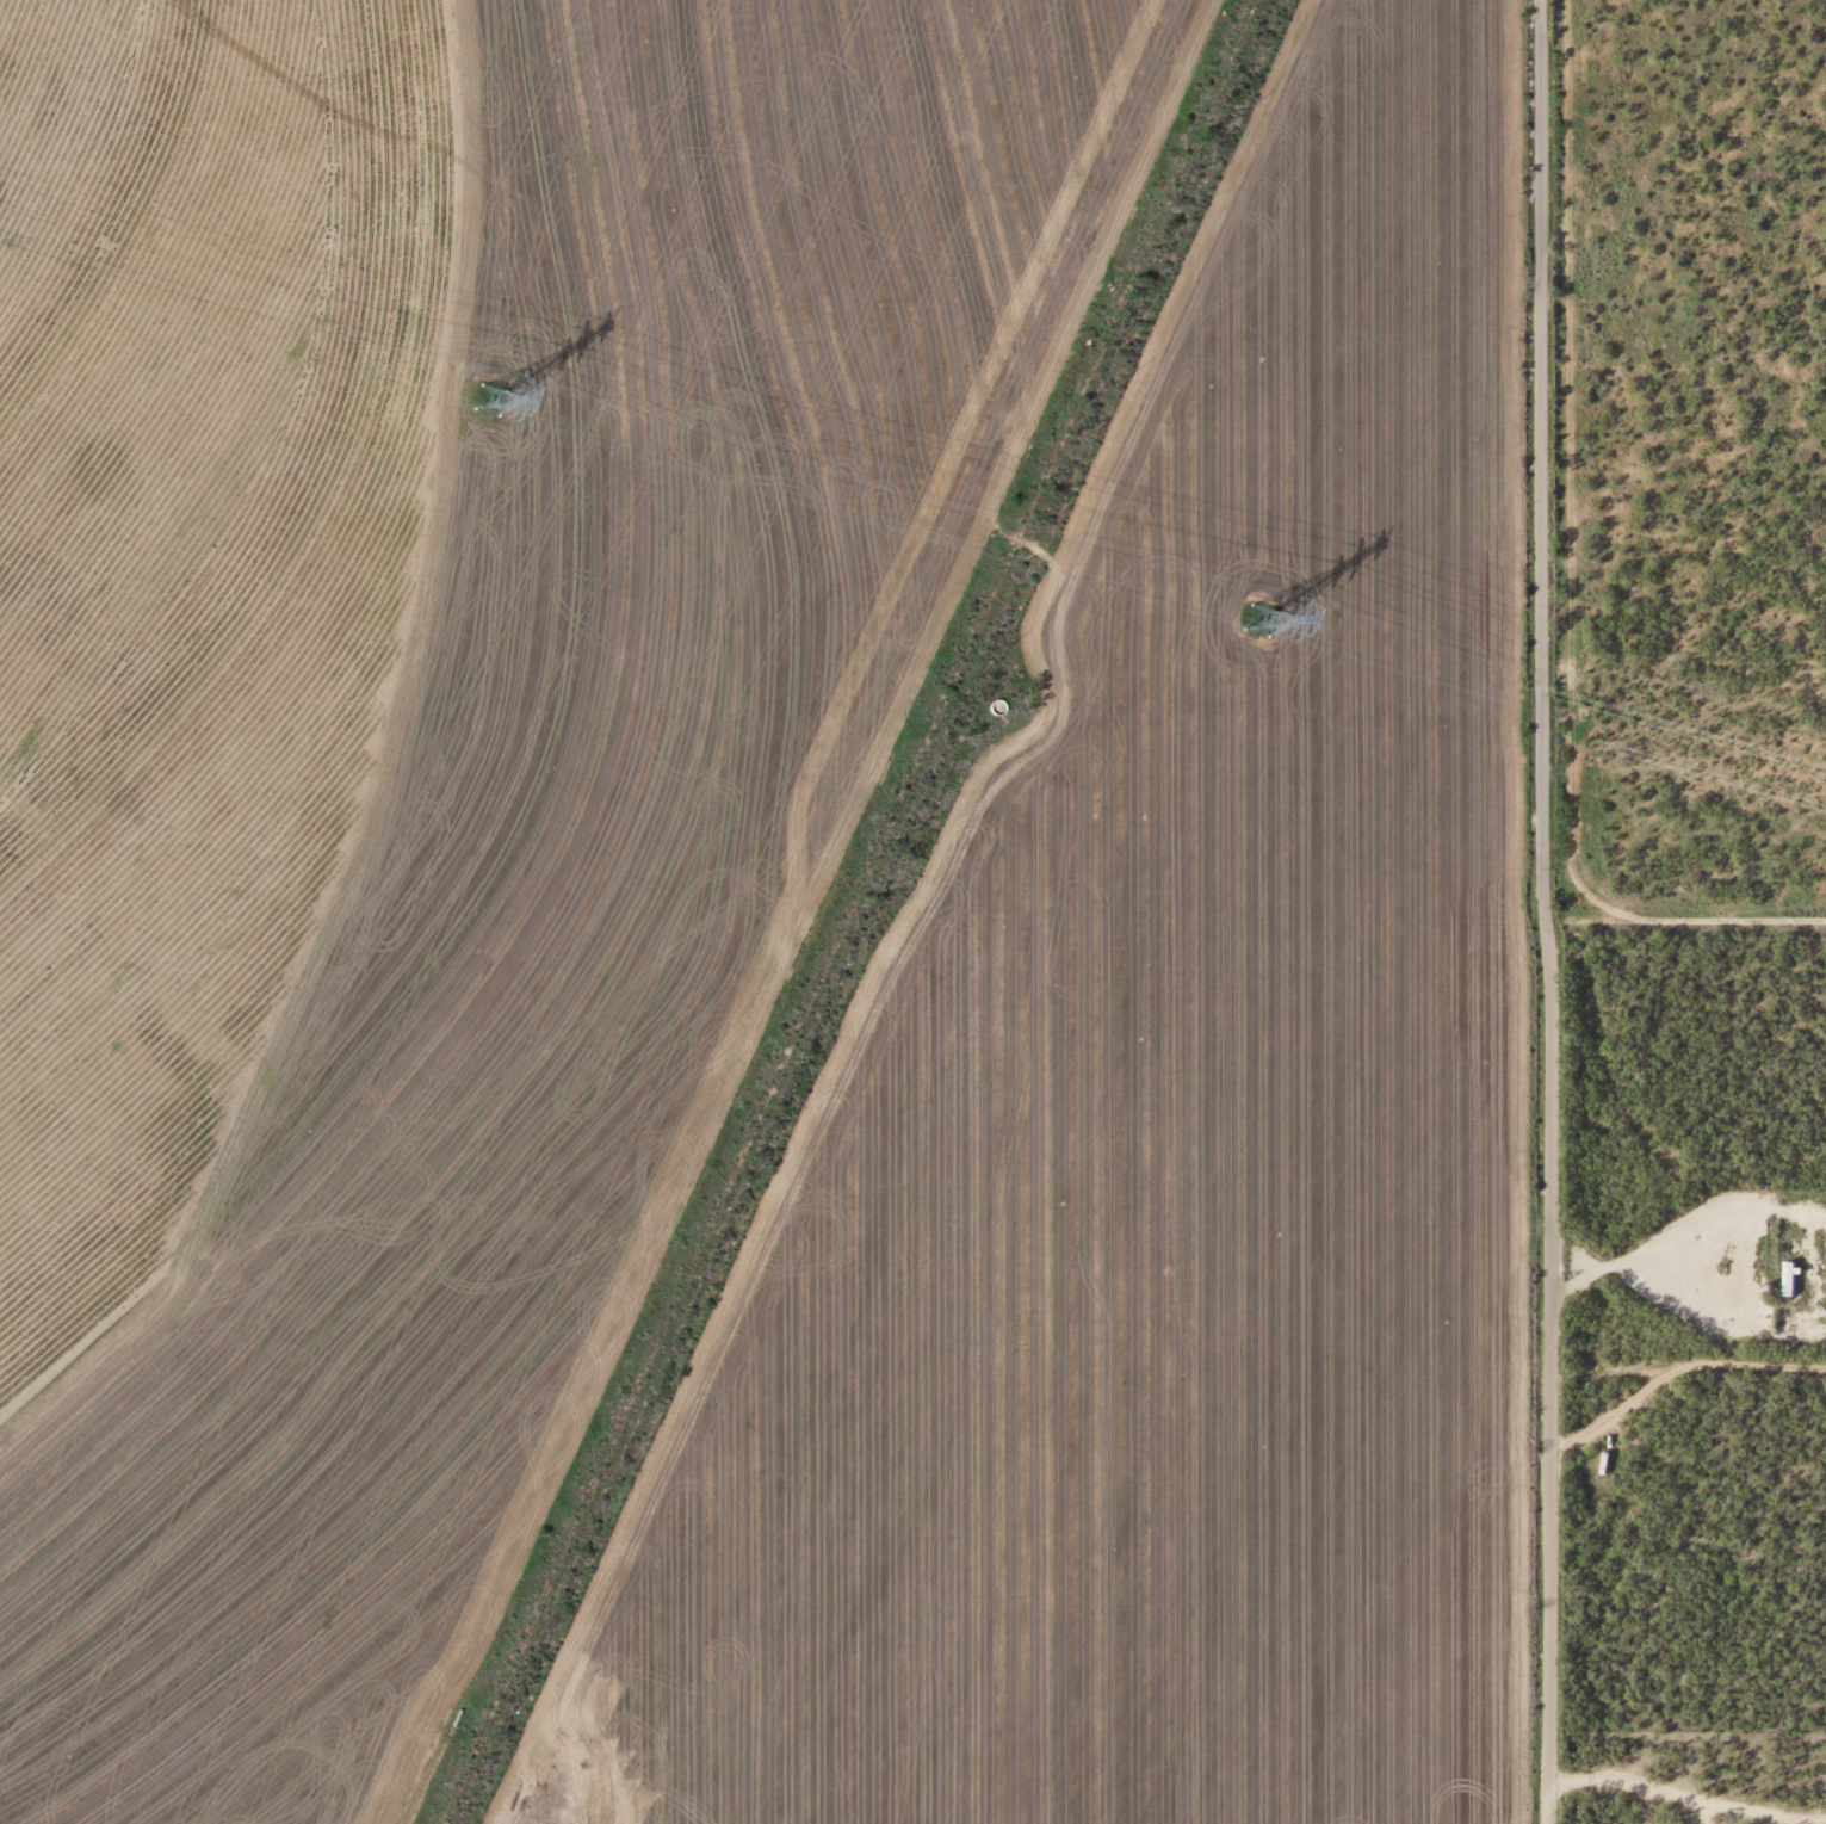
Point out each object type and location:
power tower: (487, 401)
power tower: (1255, 624)
road: (1508, 911)
road: (1666, 952)
building: (1787, 1279)

